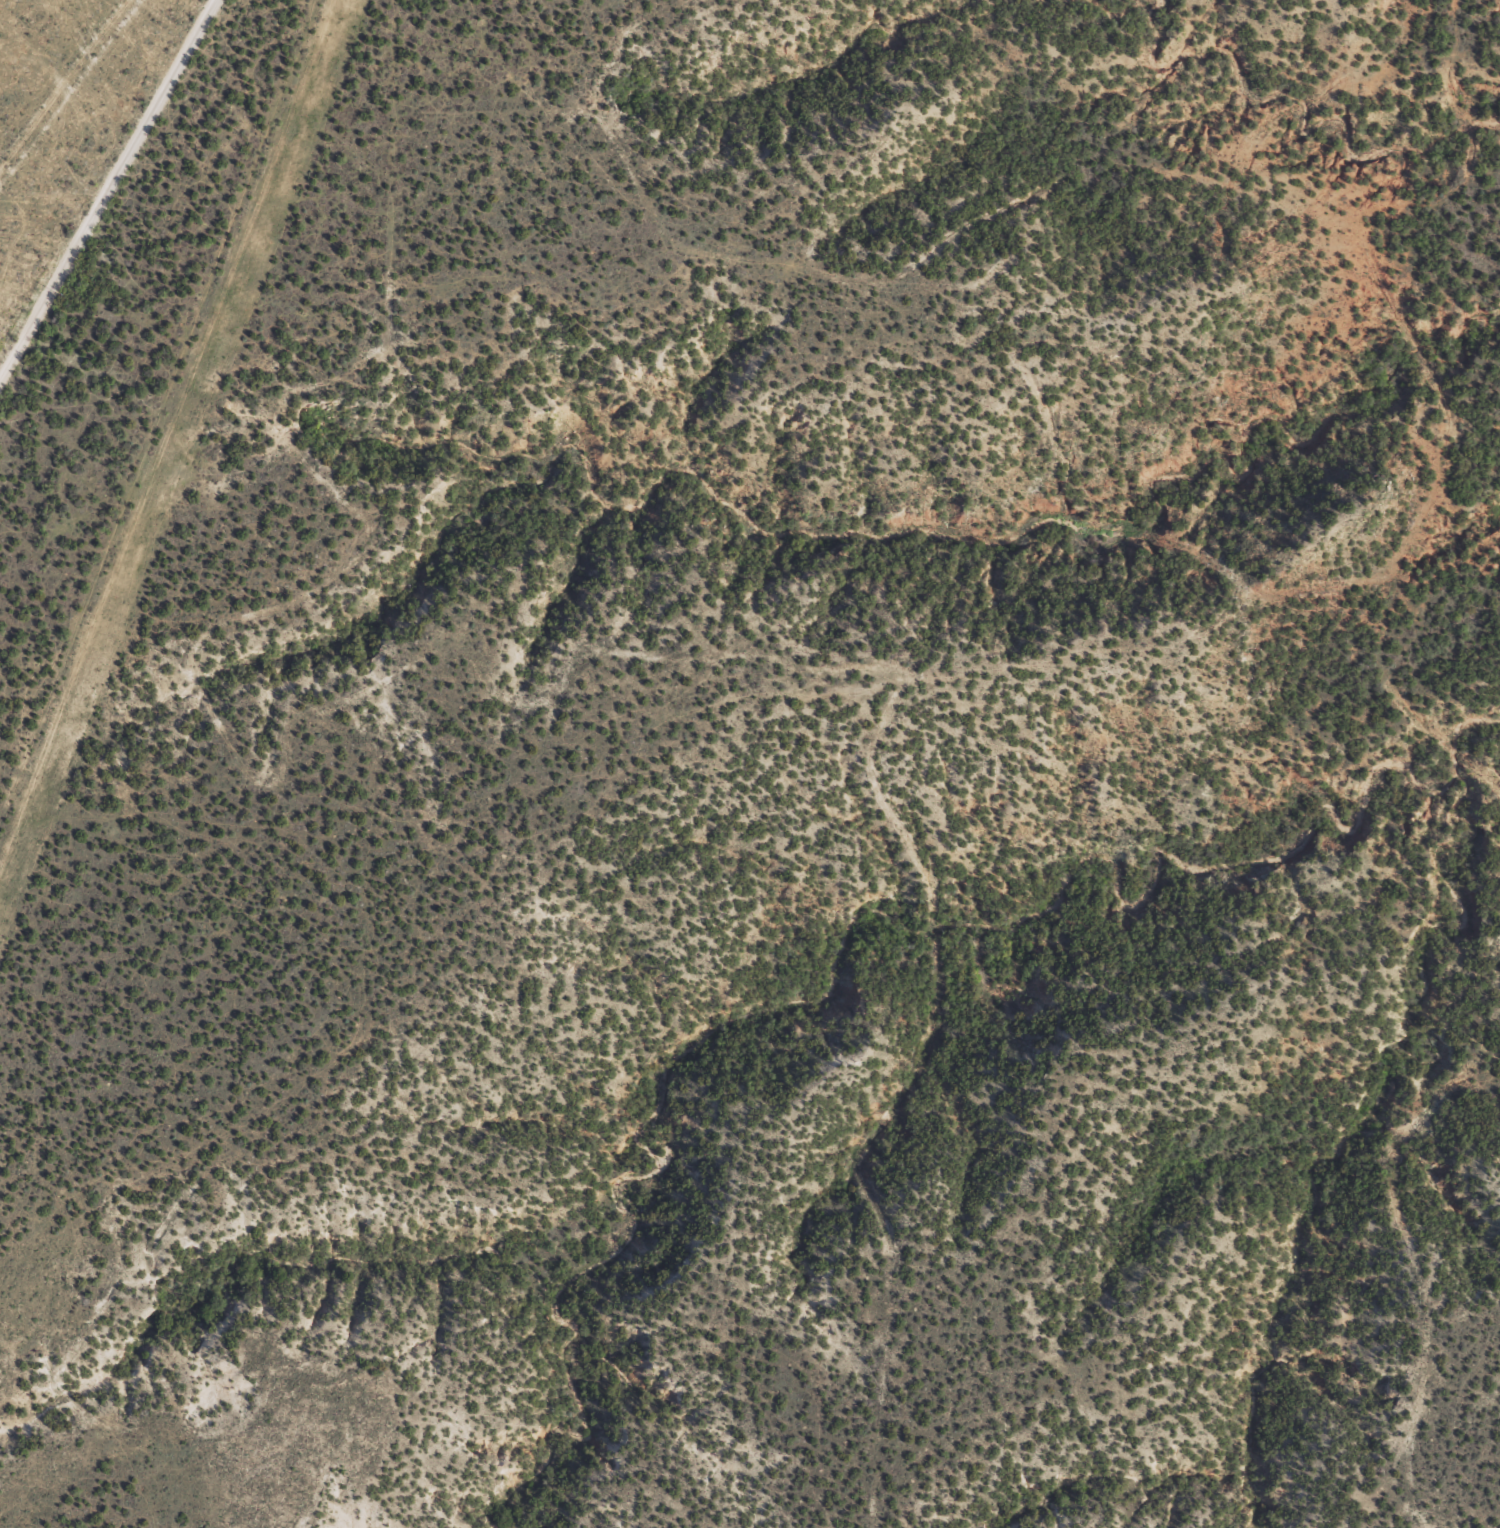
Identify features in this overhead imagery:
road: (130, 217)

